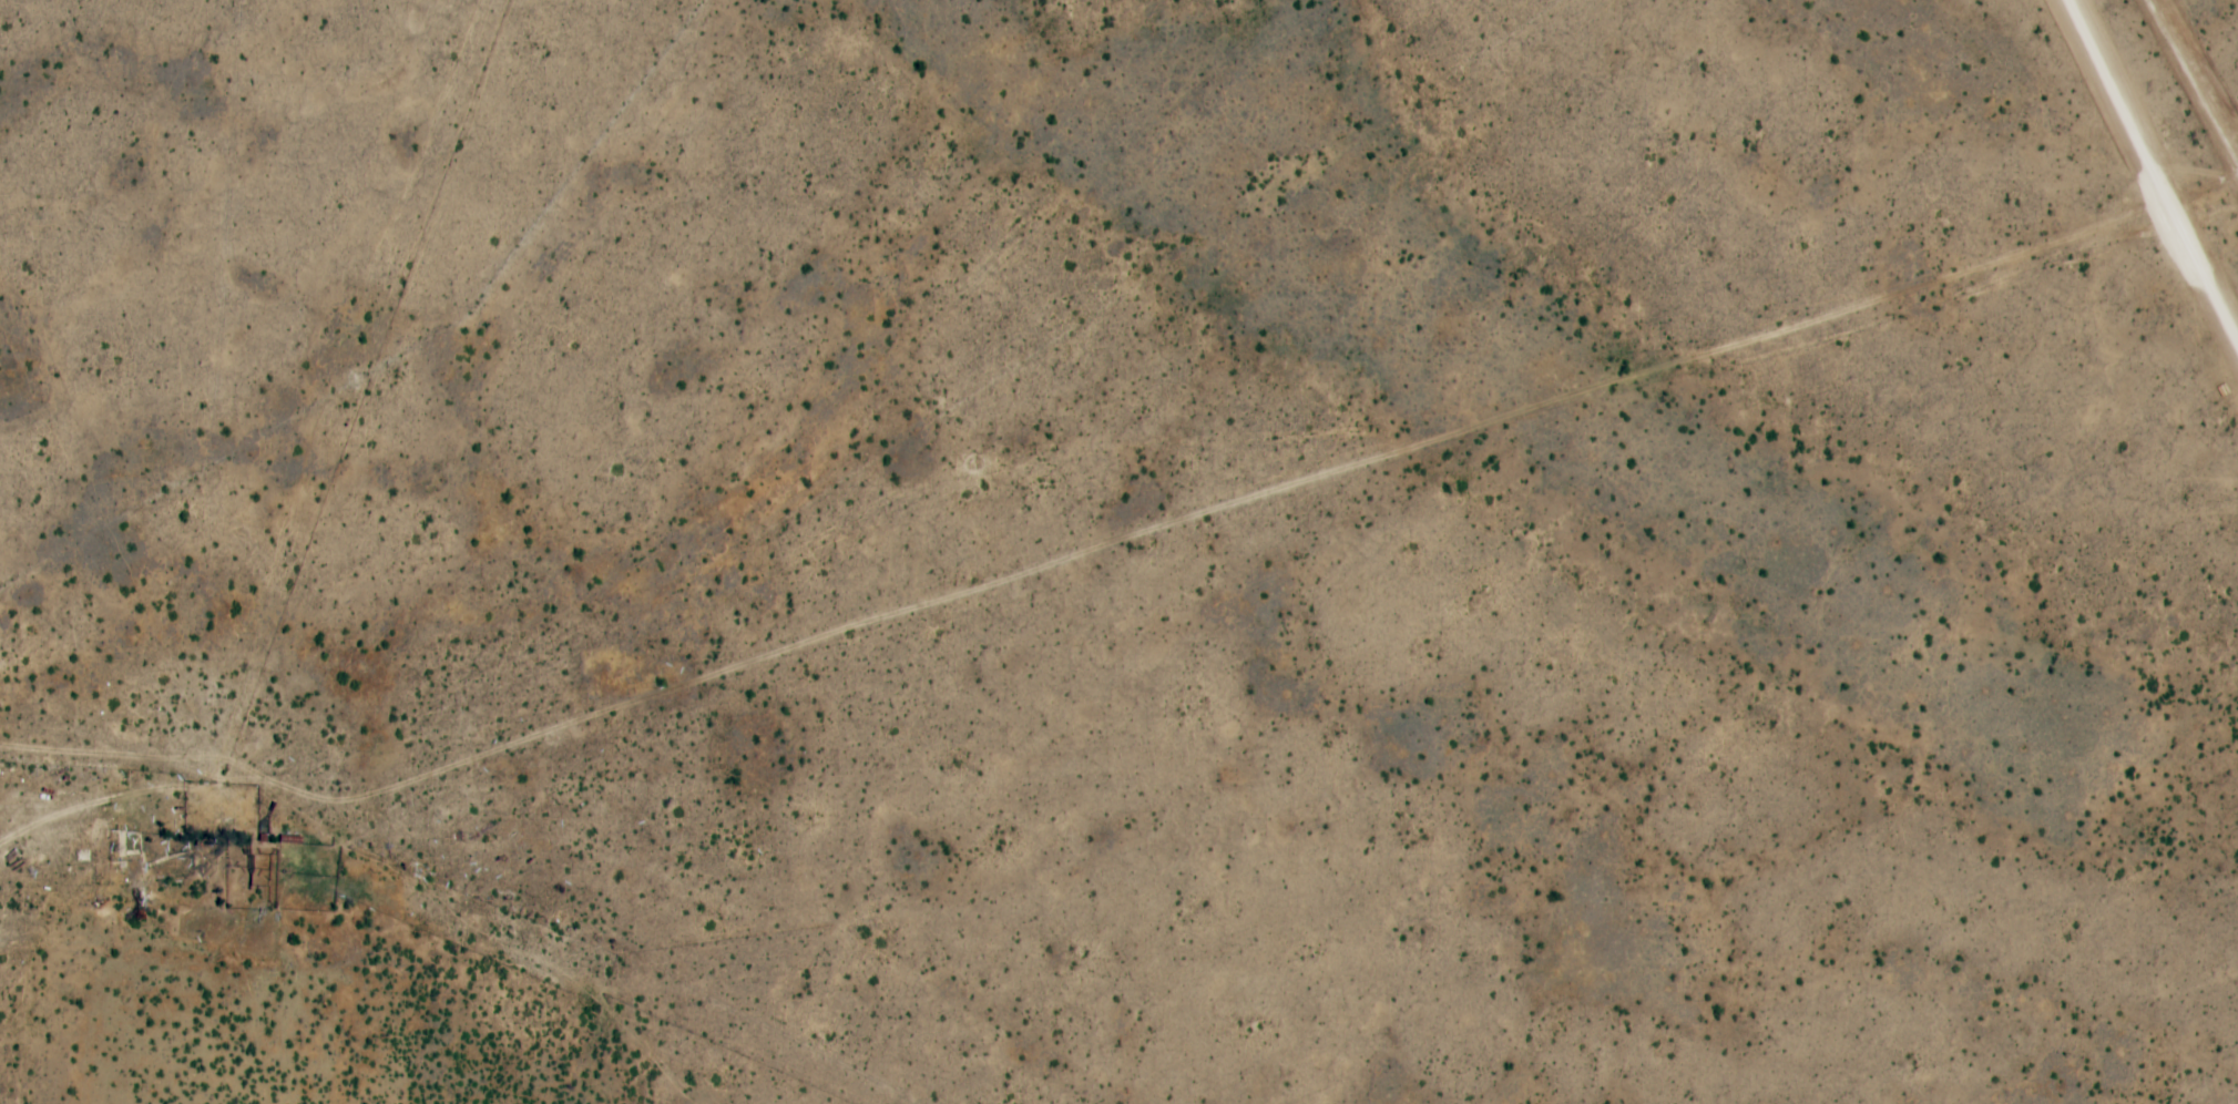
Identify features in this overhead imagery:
road: (176, 734)
road: (79, 768)
building: (100, 853)
building: (136, 870)

